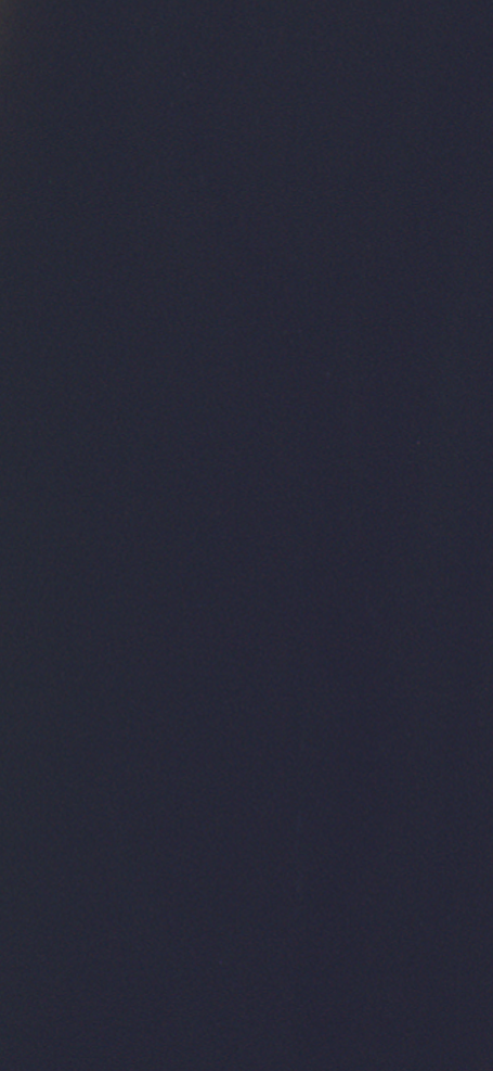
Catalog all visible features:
river: (462, 944)

